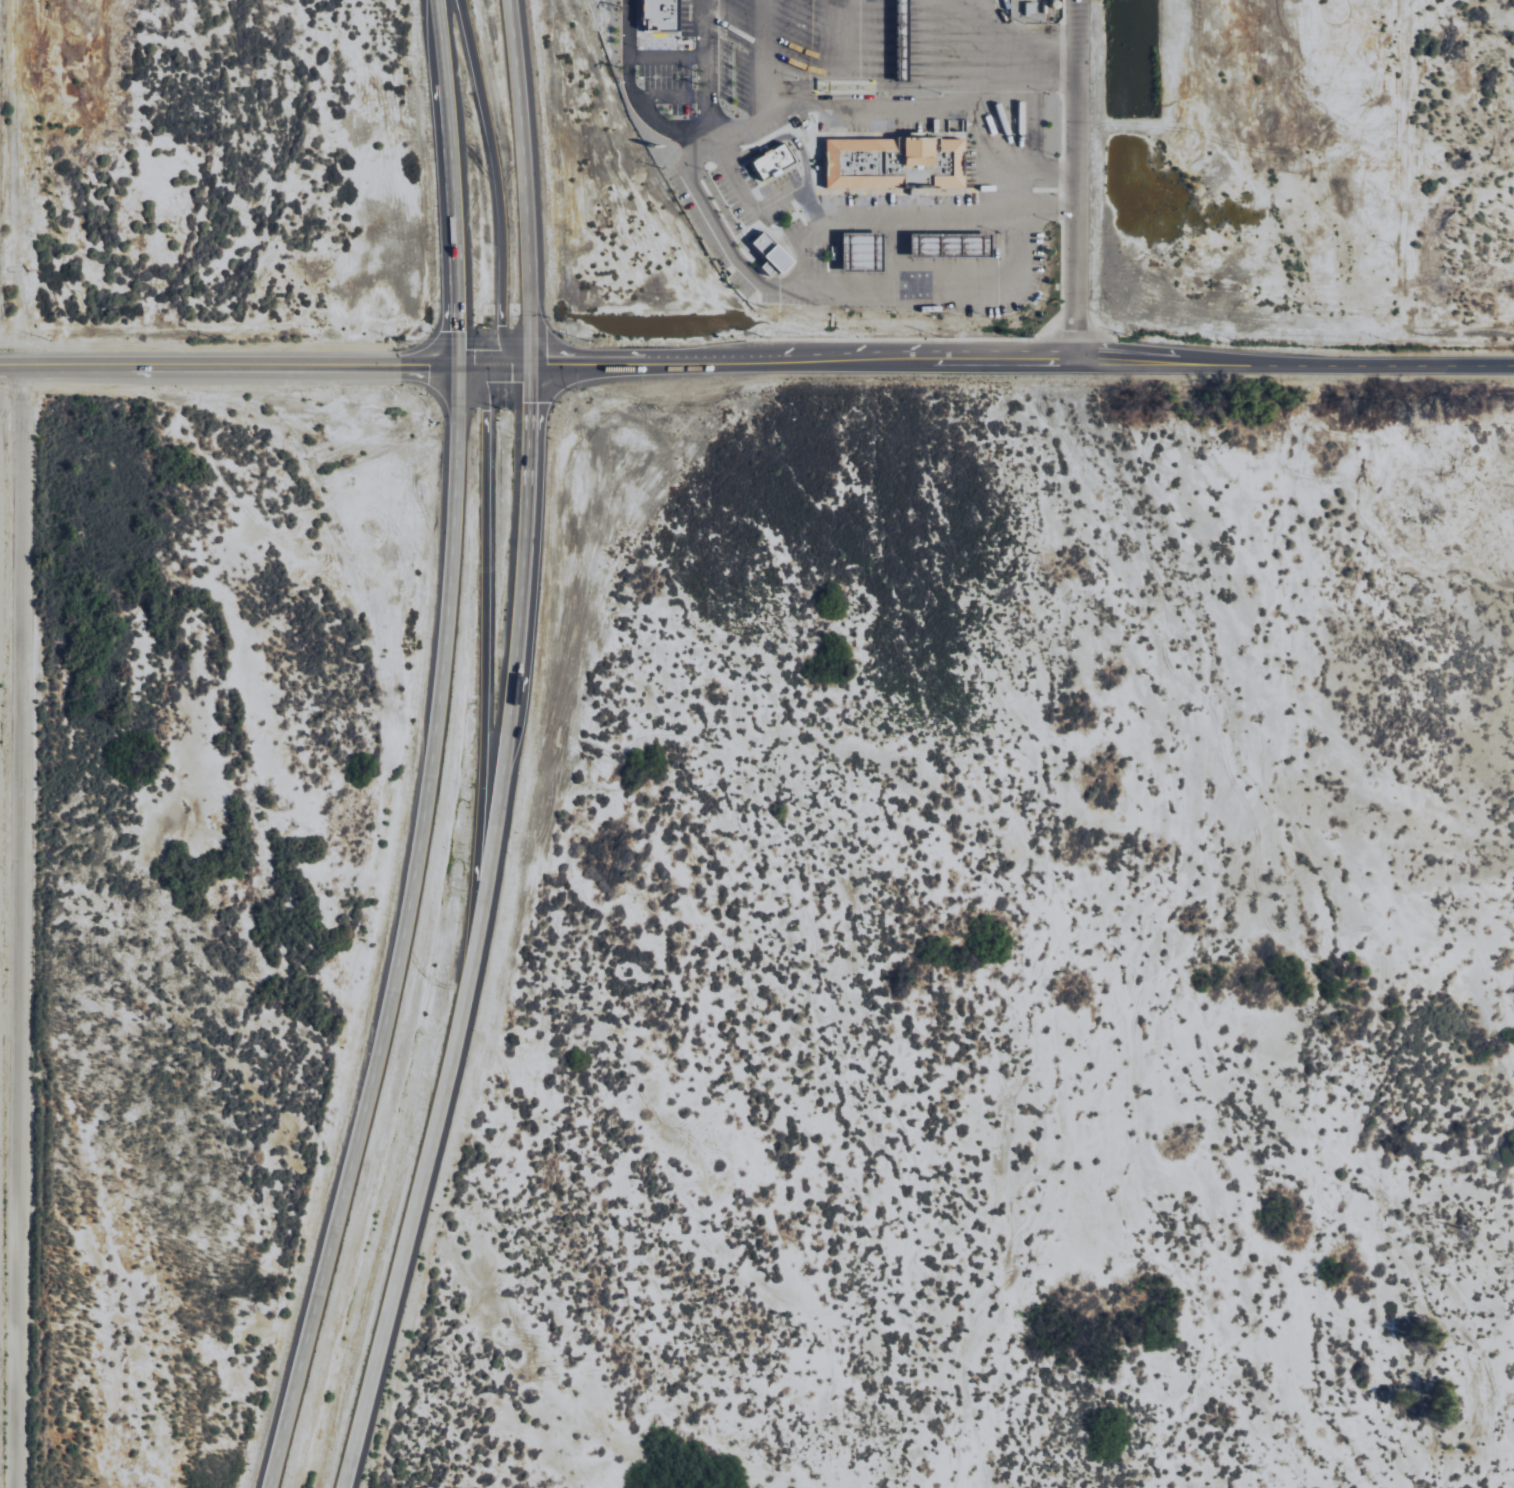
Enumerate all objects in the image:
building: (1032, 7)
building: (662, 15)
road: (767, 61)
road: (699, 72)
road: (638, 93)
road: (1018, 99)
road: (878, 101)
road: (762, 128)
building: (774, 160)
building: (897, 161)
road: (1073, 180)
road: (447, 182)
road: (524, 182)
road: (491, 186)
road: (708, 211)
building: (953, 245)
gas station: (953, 245)
building: (864, 251)
gas station: (864, 251)
building: (773, 253)
road: (982, 361)
road: (225, 365)
traffic signals: (451, 366)
traffic signals: (531, 366)
road: (523, 568)
road: (483, 659)
road: (403, 933)
road: (431, 1131)
road: (2, 1232)

